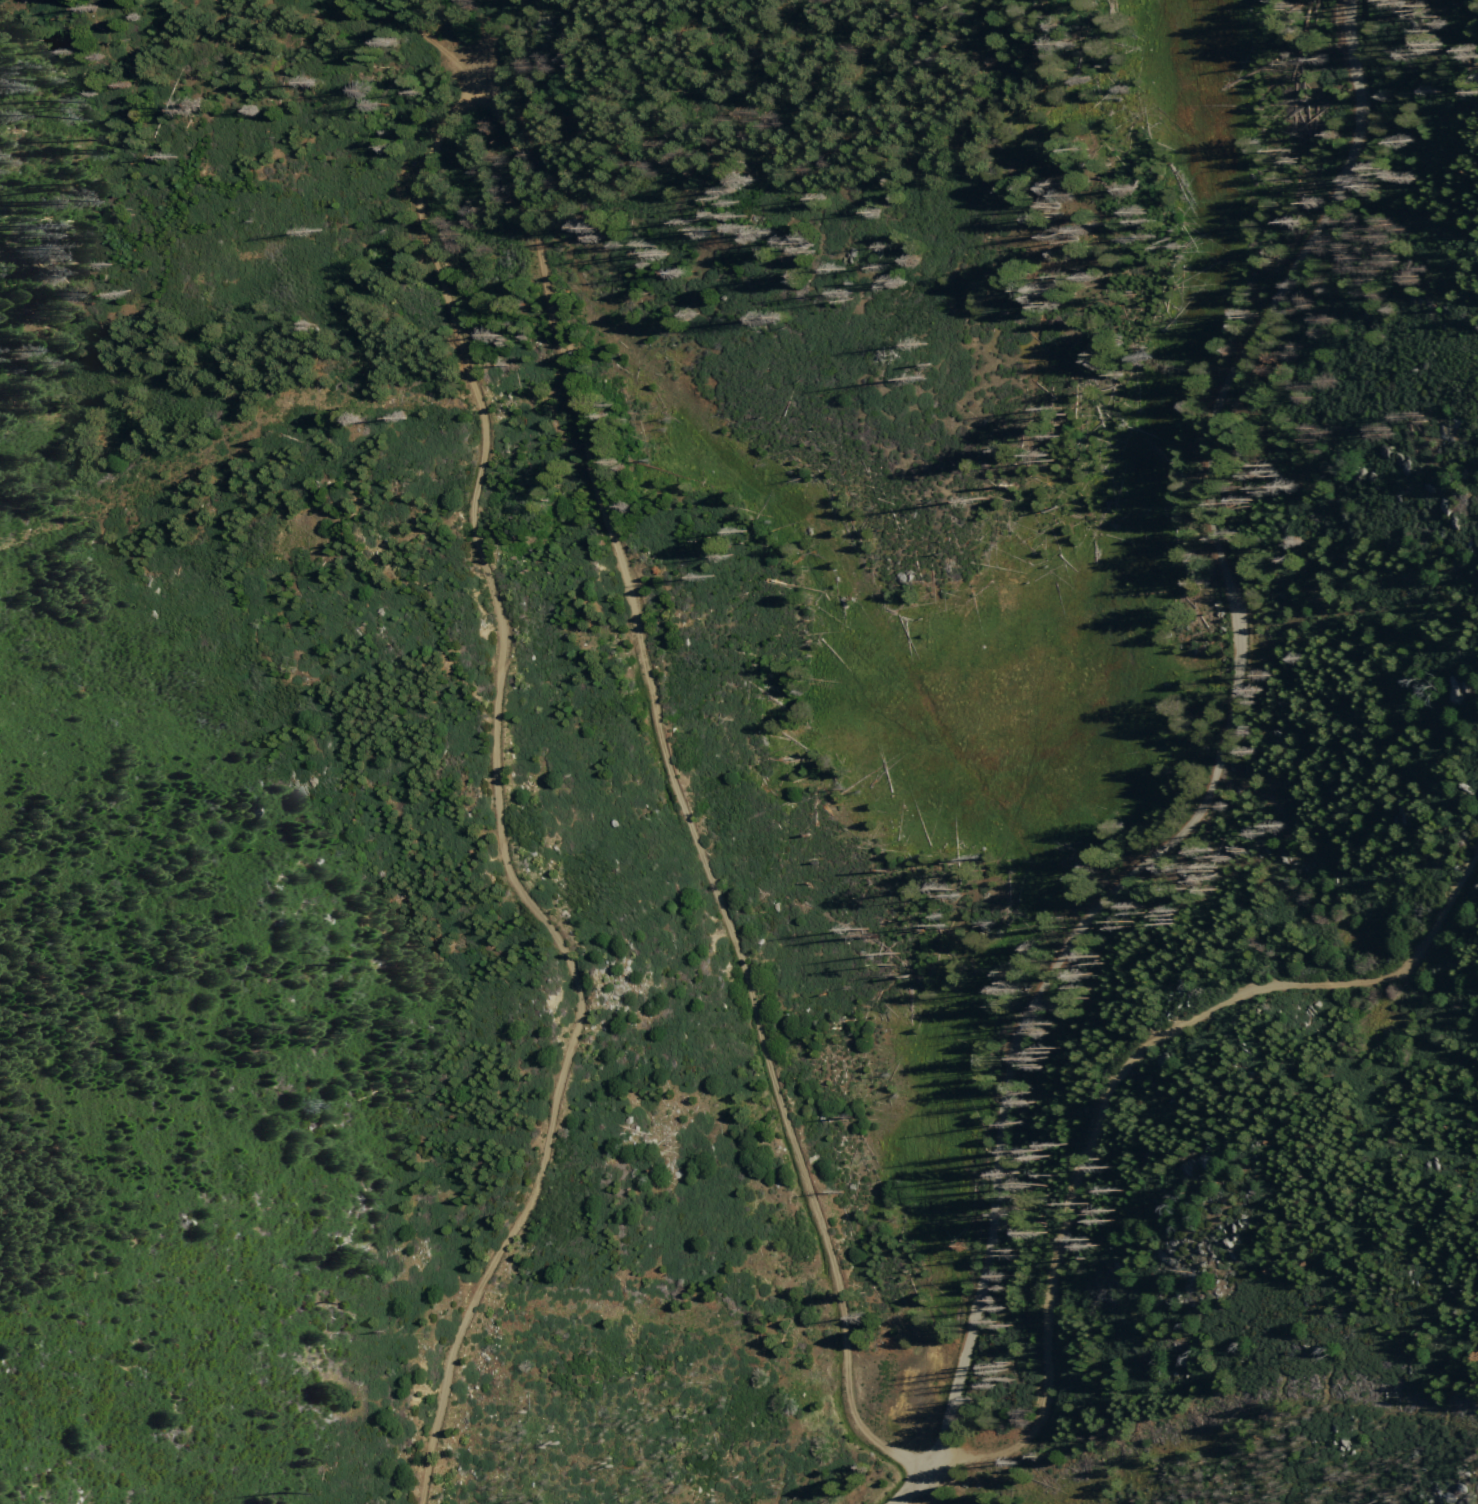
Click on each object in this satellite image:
road: (429, 45)
road: (1215, 777)
road: (679, 798)
road: (490, 803)
road: (1100, 1073)

